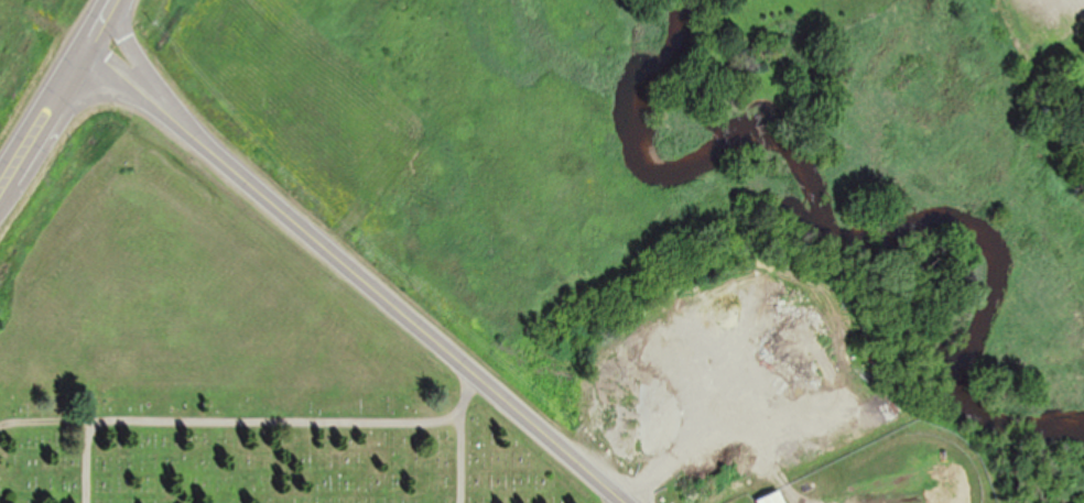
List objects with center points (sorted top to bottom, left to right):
road: (101, 26)
road: (143, 67)
road: (135, 89)
road: (43, 118)
crop: (167, 280)
road: (402, 316)
road: (251, 419)
park: (278, 437)
road: (462, 459)
road: (84, 463)
building: (772, 497)
road: (611, 499)

